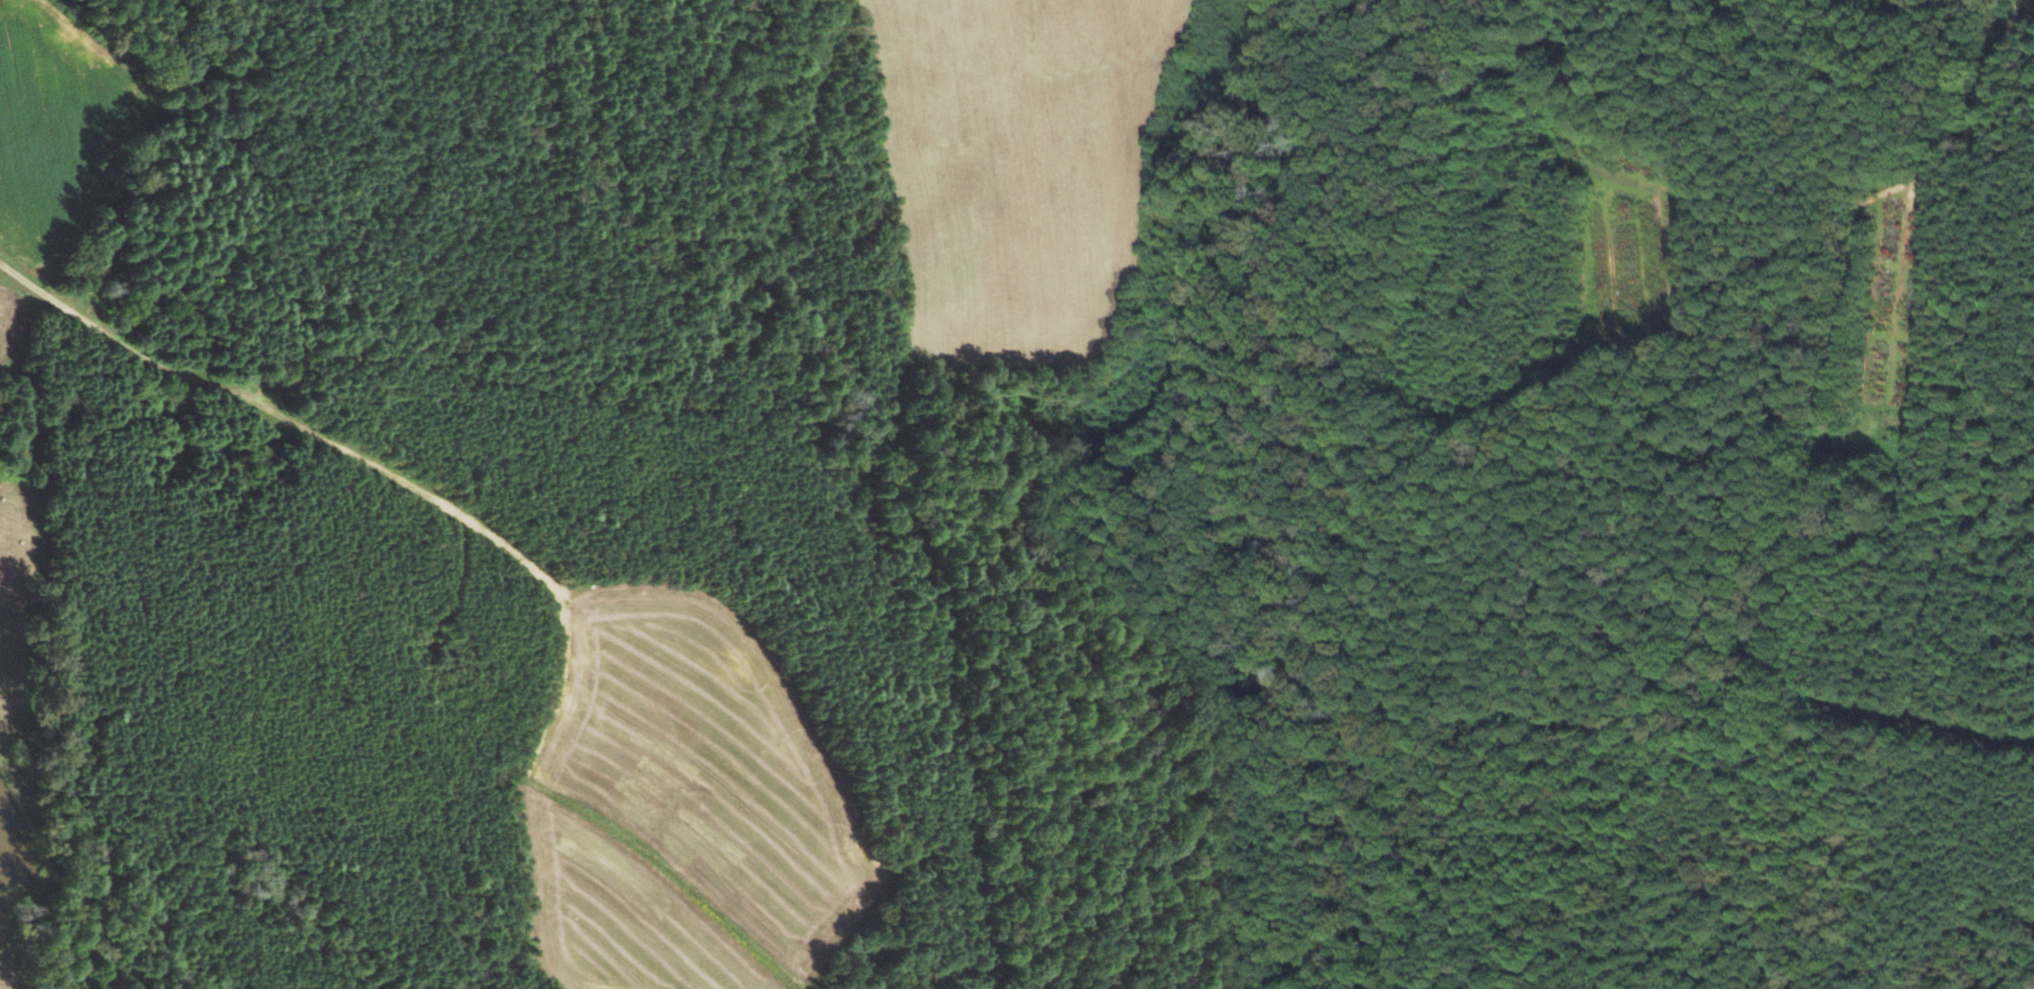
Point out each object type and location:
road: (281, 417)
road: (809, 720)
road: (519, 788)

